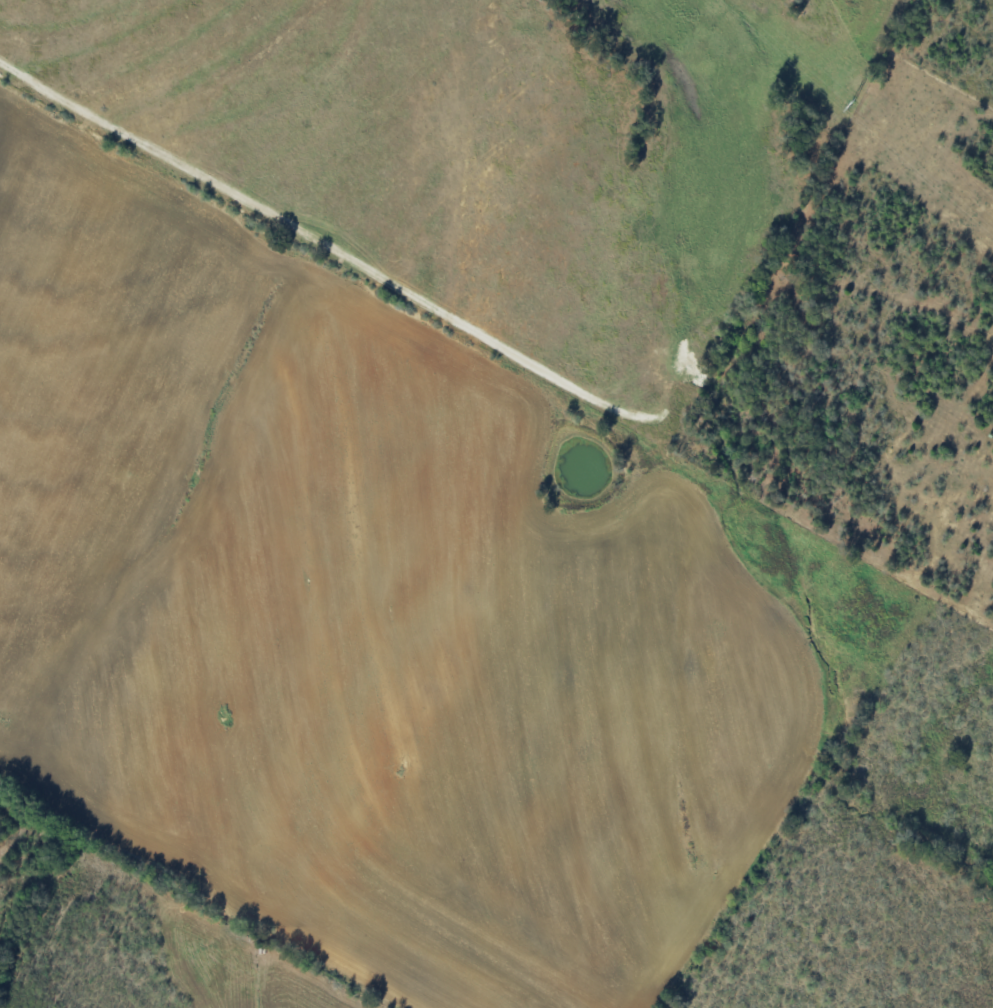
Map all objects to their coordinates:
power tower: (853, 102)

